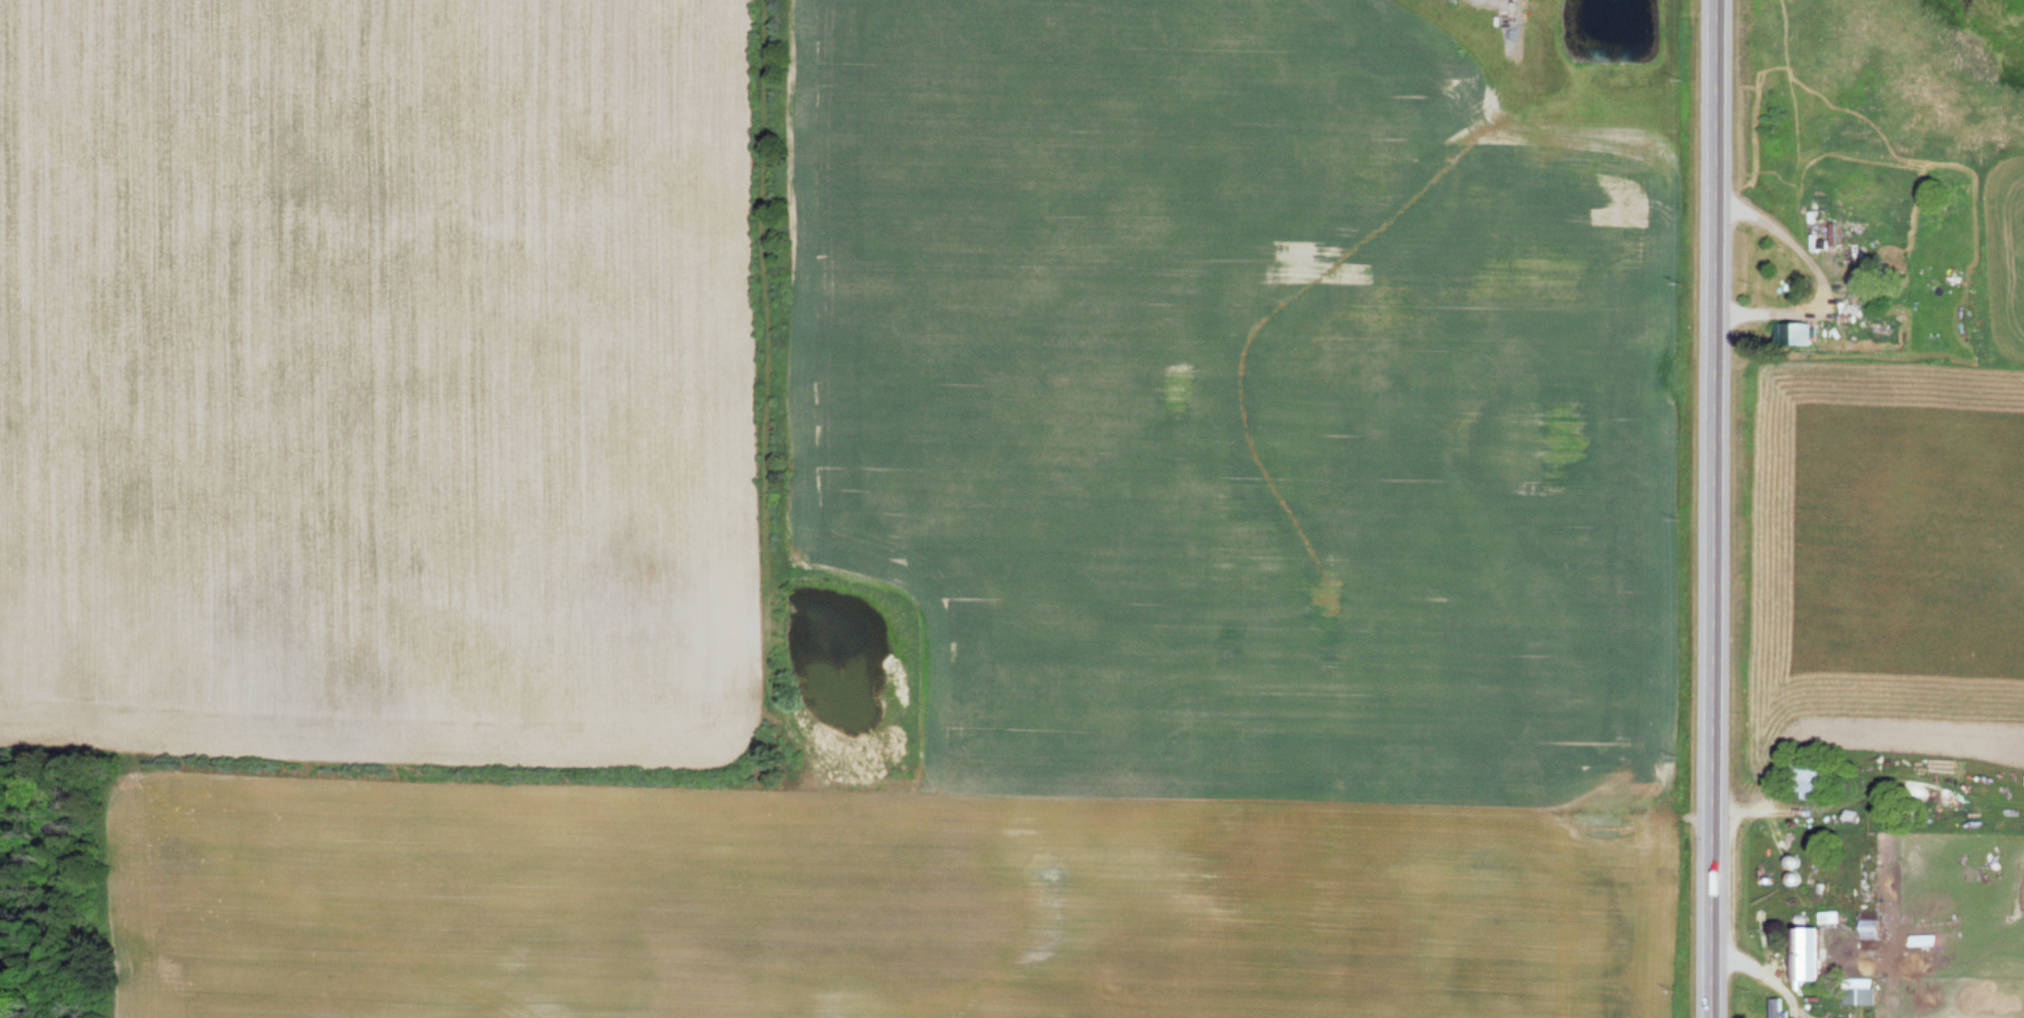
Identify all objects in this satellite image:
building: (1792, 333)
road: (1720, 509)
building: (1807, 778)
building: (1919, 941)
building: (1803, 955)
building: (1858, 993)
building: (1776, 1008)

